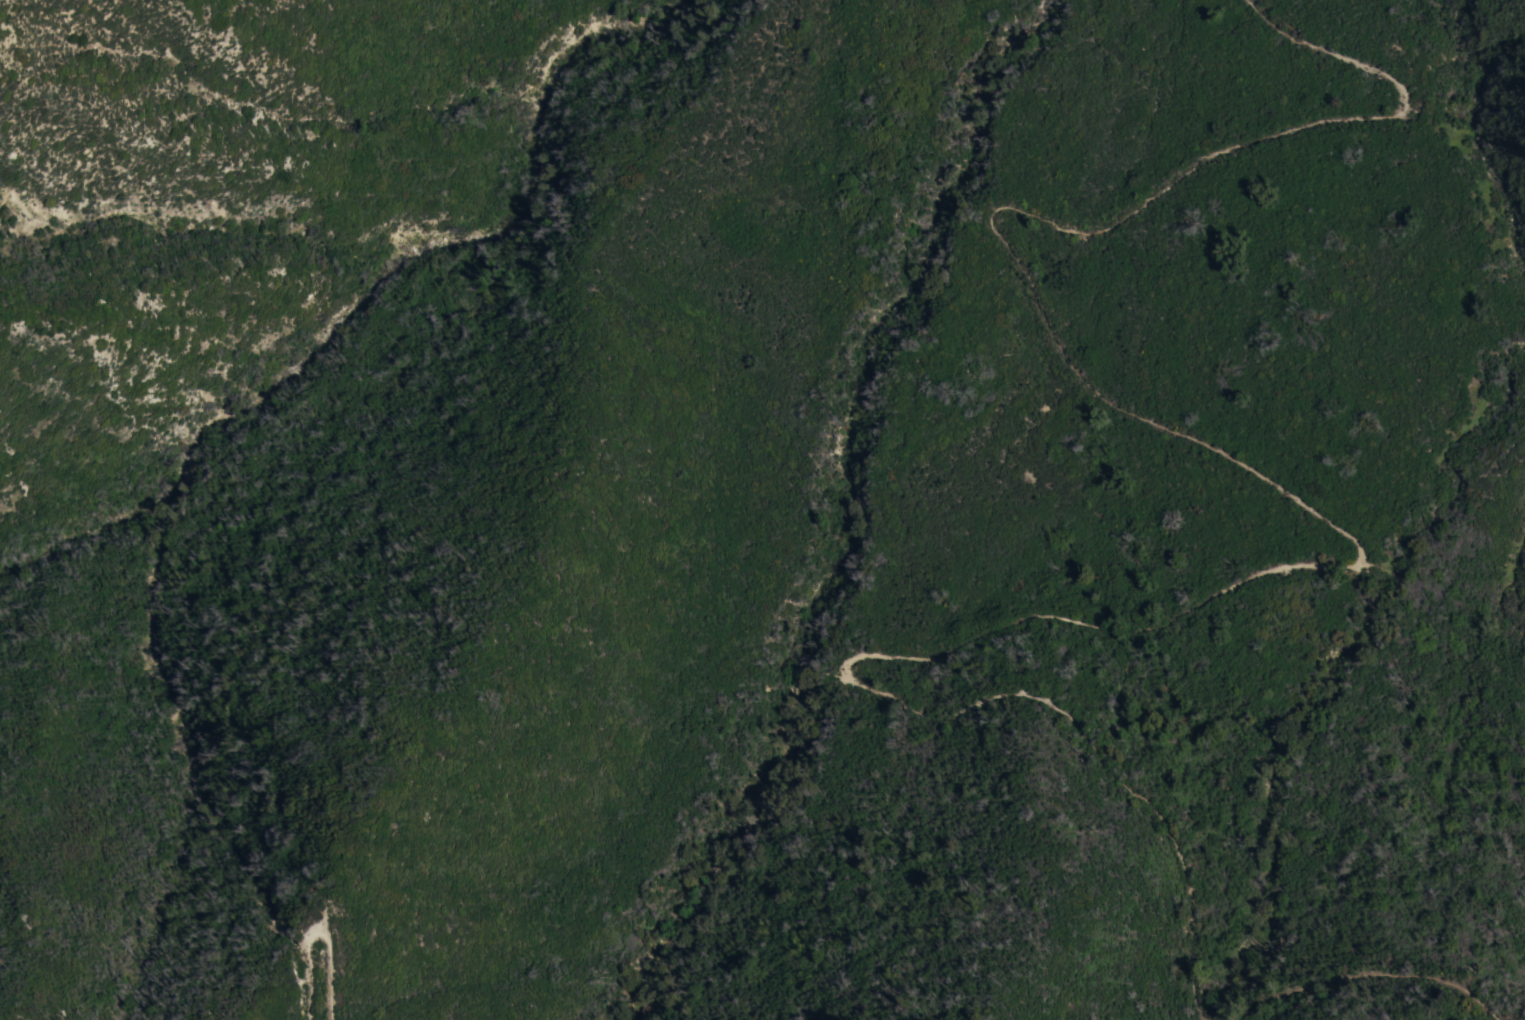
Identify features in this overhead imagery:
road: (1359, 543)
road: (315, 924)
road: (1373, 970)

